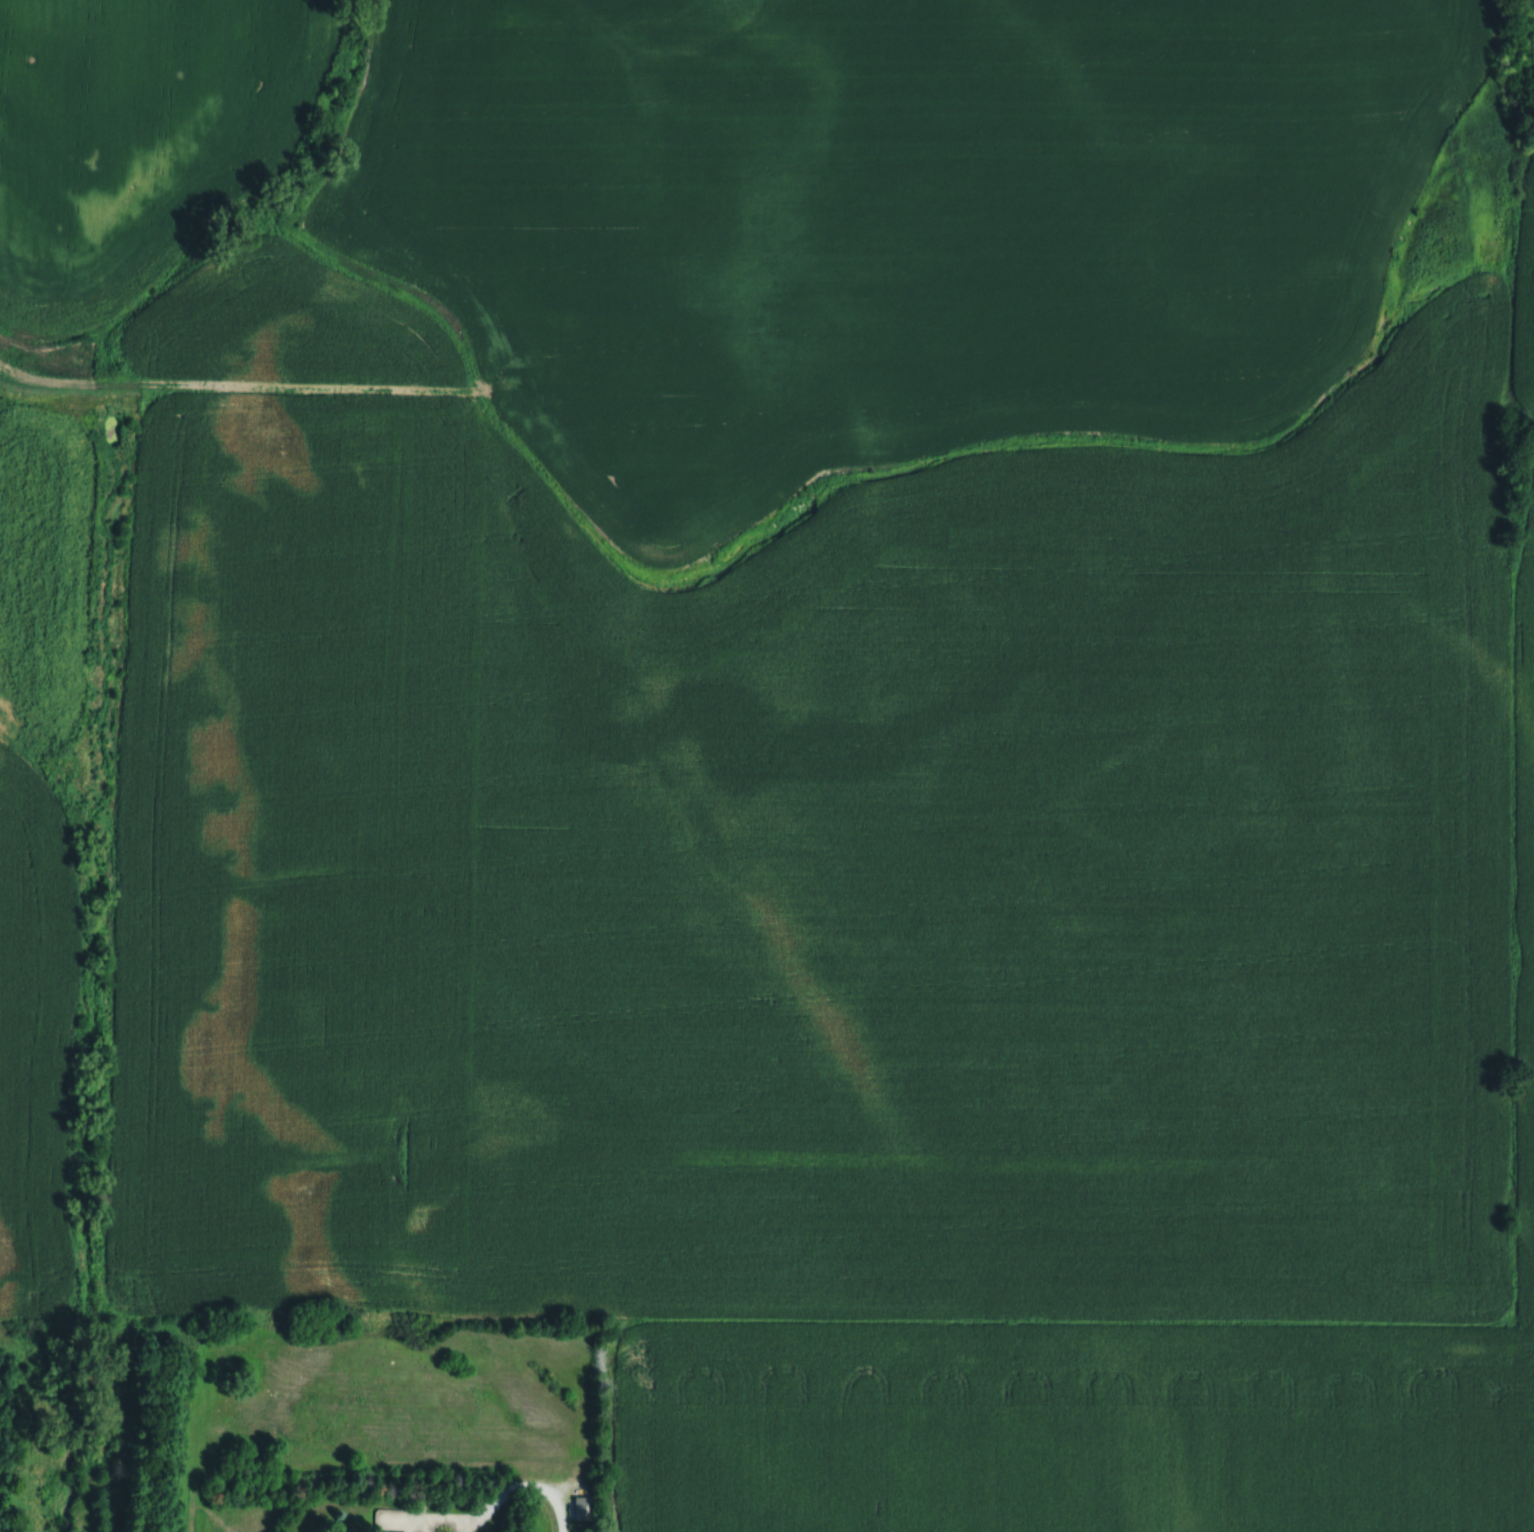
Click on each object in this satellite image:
road: (524, 1487)
building: (581, 1508)
road: (454, 1524)

